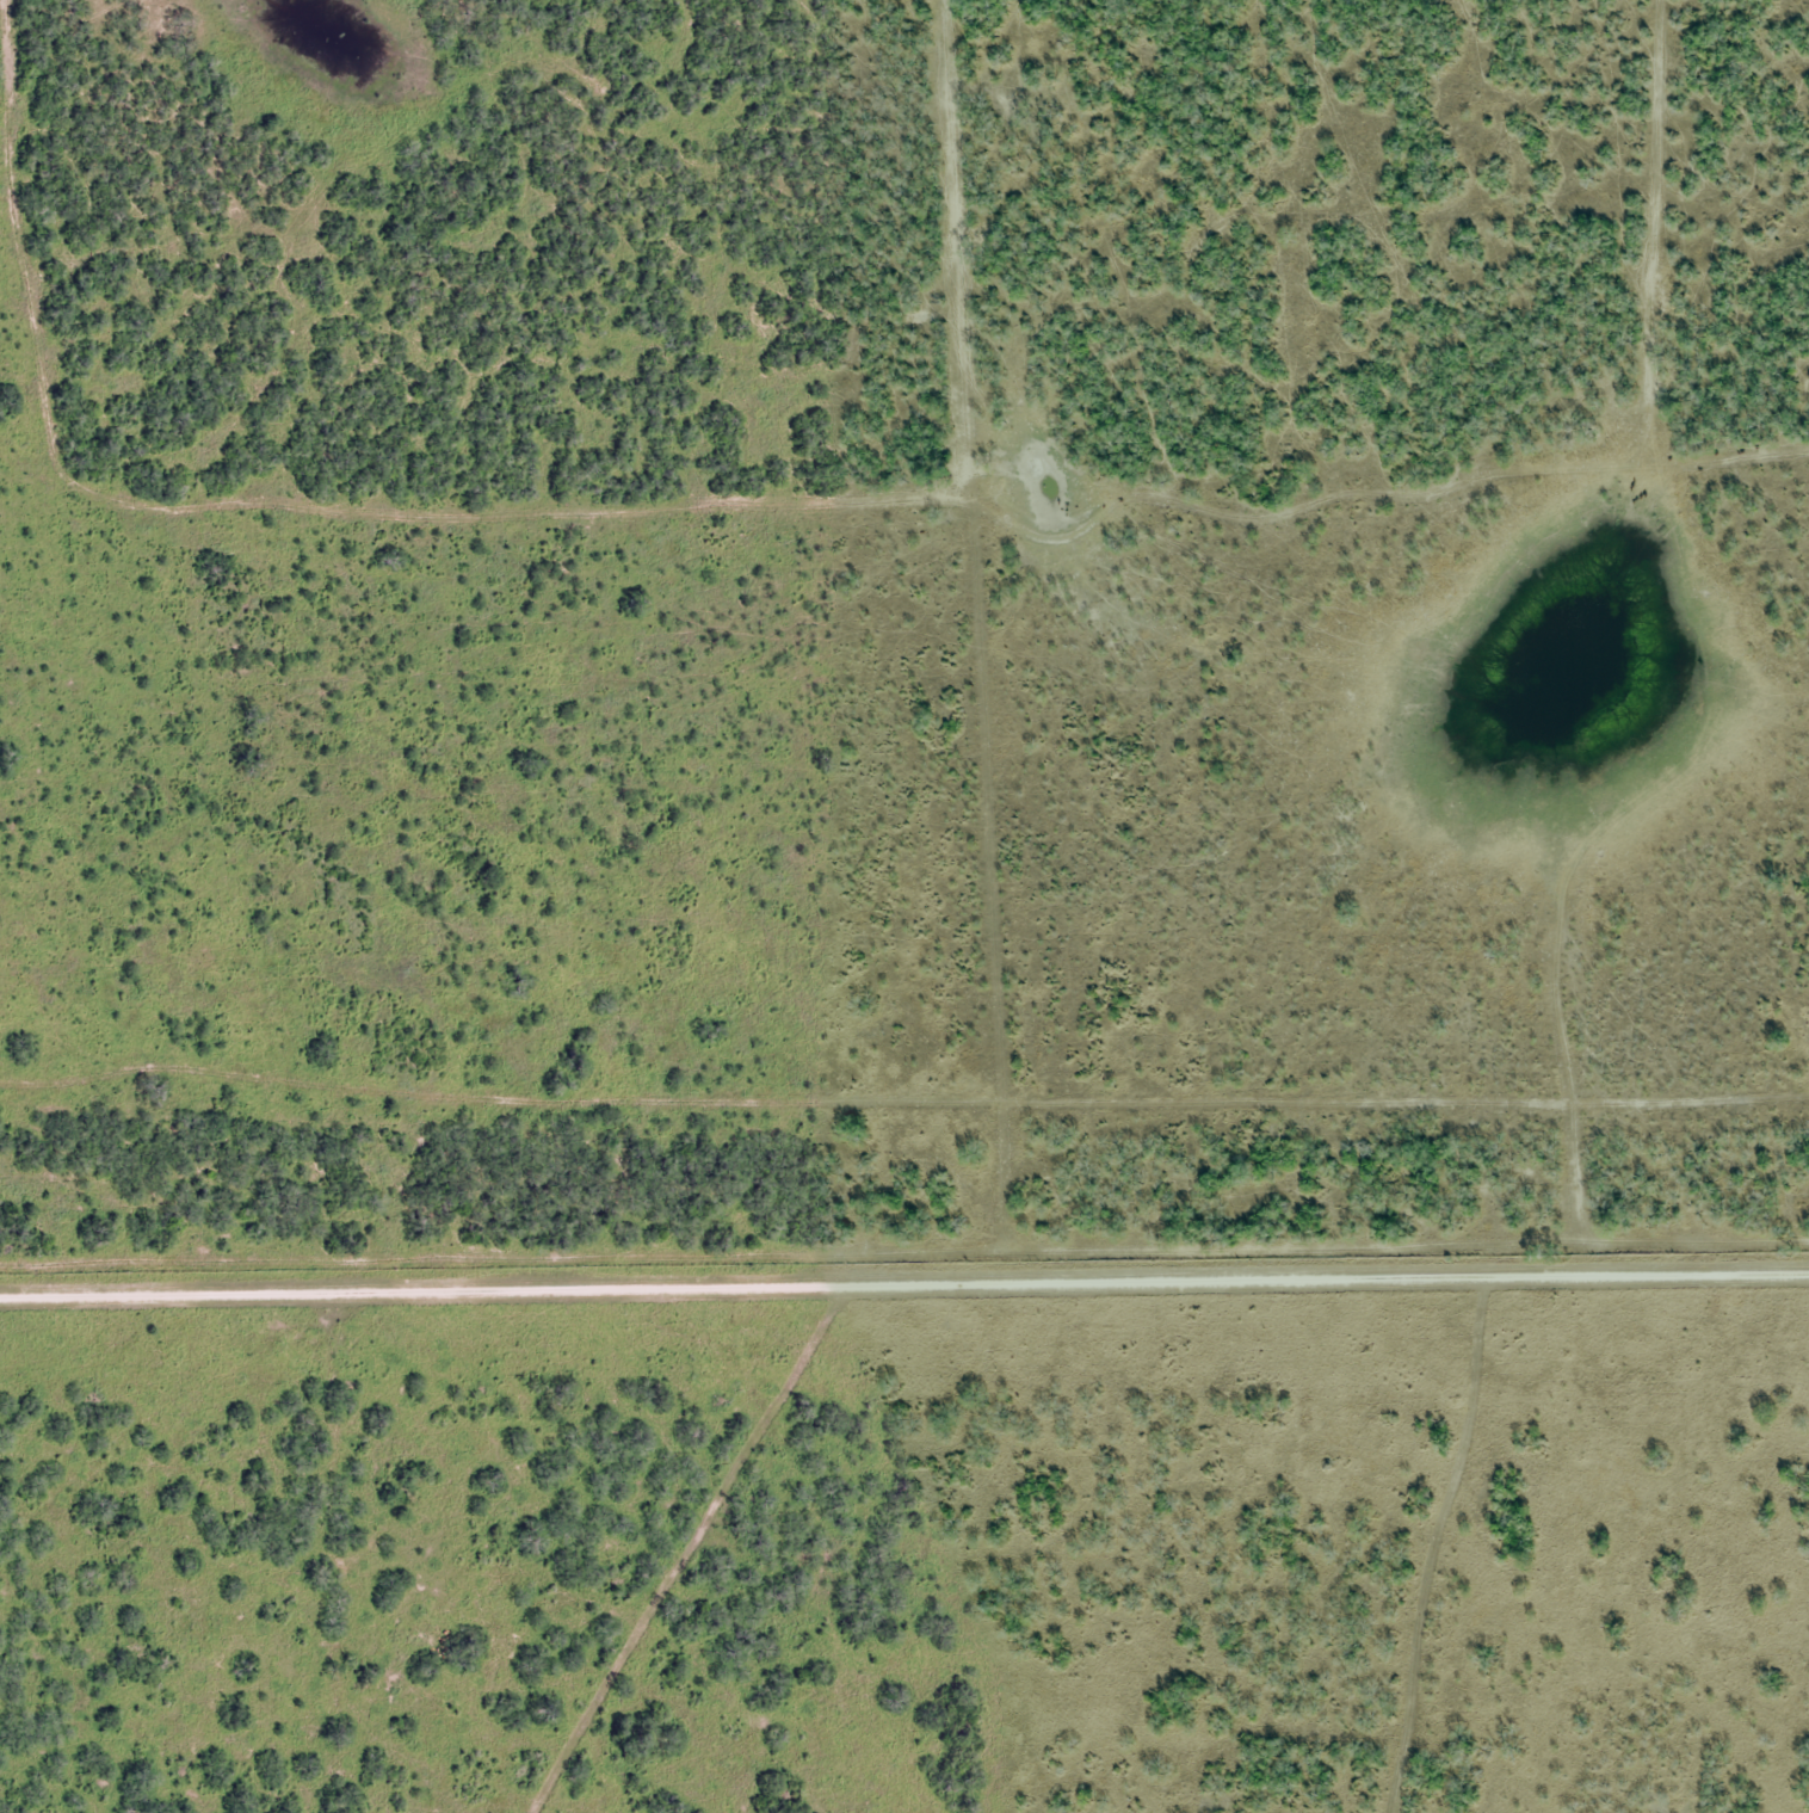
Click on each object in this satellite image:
road: (903, 1269)

